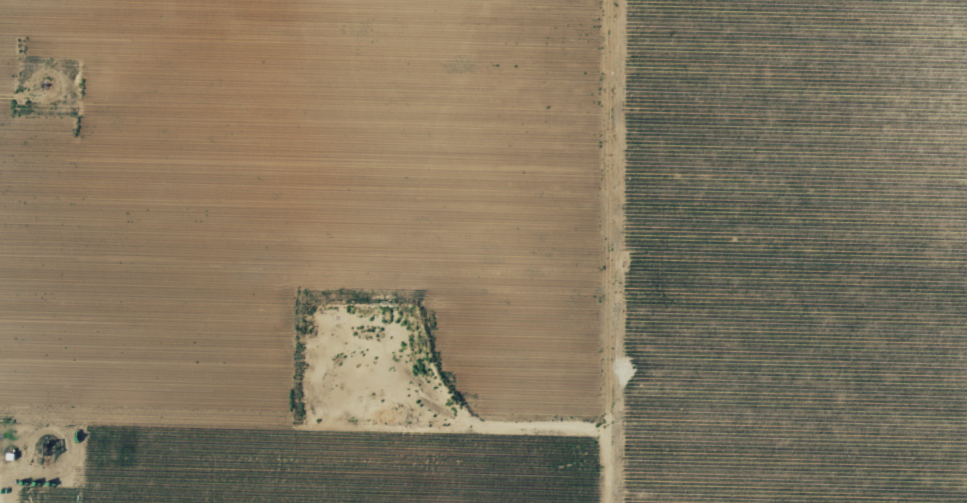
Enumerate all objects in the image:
road: (618, 251)

